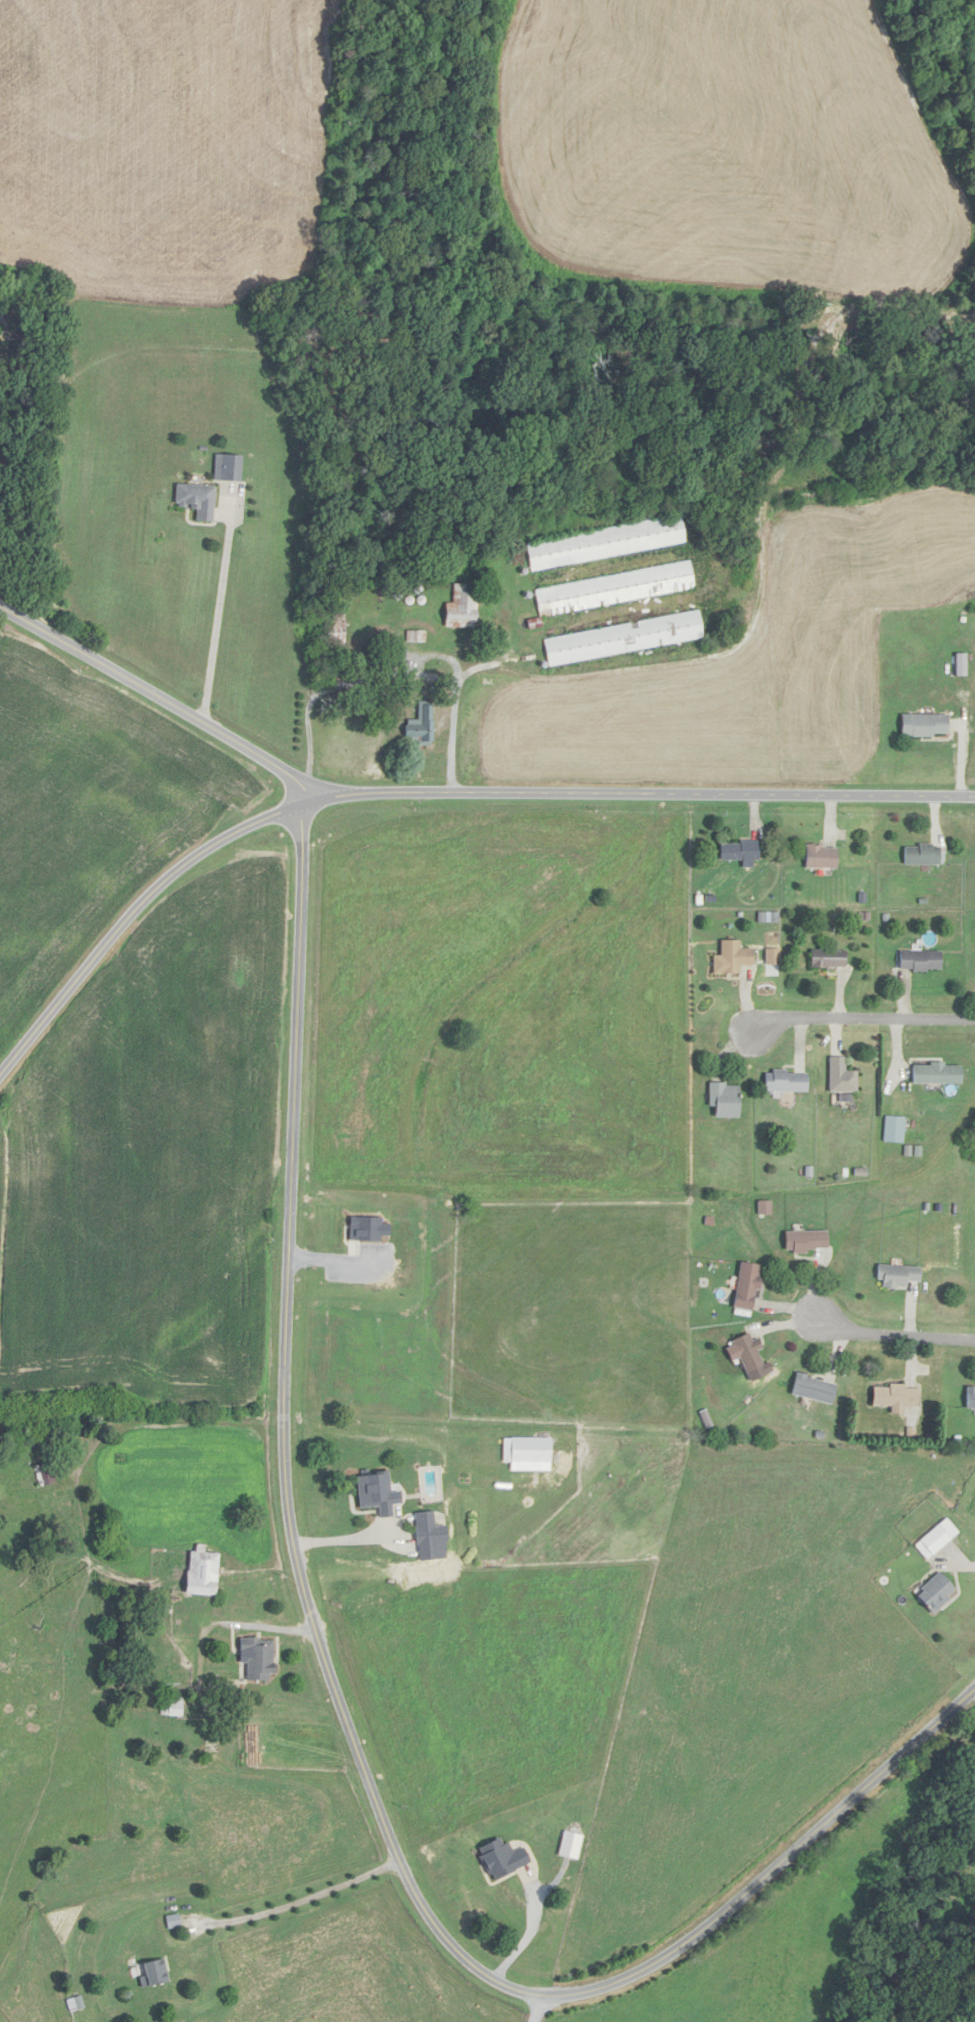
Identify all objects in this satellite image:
building: (200, 501)
building: (608, 543)
building: (617, 590)
road: (220, 605)
building: (465, 608)
building: (418, 636)
building: (626, 639)
building: (338, 641)
building: (399, 657)
building: (964, 665)
building: (332, 673)
road: (391, 673)
road: (161, 696)
building: (423, 726)
building: (925, 726)
road: (431, 791)
building: (743, 853)
building: (920, 855)
building: (824, 857)
building: (733, 958)
building: (826, 959)
building: (918, 961)
road: (845, 1025)
building: (935, 1074)
building: (840, 1077)
building: (784, 1082)
building: (723, 1101)
building: (764, 1208)
building: (804, 1243)
road: (338, 1260)
building: (898, 1277)
building: (745, 1287)
road: (874, 1342)
building: (747, 1354)
building: (812, 1390)
building: (969, 1398)
building: (893, 1399)
building: (47, 1474)
building: (380, 1494)
building: (431, 1533)
road: (347, 1536)
building: (936, 1539)
road: (966, 1559)
building: (205, 1572)
building: (934, 1592)
building: (185, 1652)
building: (261, 1658)
road: (341, 1705)
road: (299, 1901)
building: (521, 1905)
road: (530, 1931)
building: (157, 1974)
road: (539, 2008)

